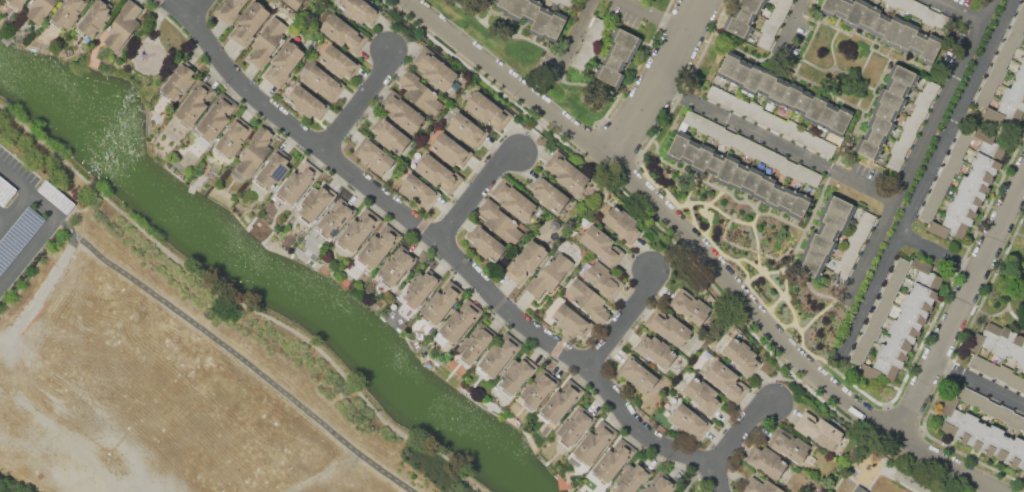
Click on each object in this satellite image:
building: (763, 0)
building: (884, 0)
building: (496, 1)
building: (554, 1)
building: (567, 2)
building: (294, 3)
building: (892, 3)
building: (16, 4)
road: (802, 4)
building: (906, 4)
building: (504, 5)
building: (750, 5)
building: (783, 5)
building: (829, 6)
building: (843, 8)
building: (40, 9)
road: (197, 9)
building: (517, 9)
building: (918, 9)
building: (229, 10)
building: (531, 10)
building: (360, 11)
building: (1021, 11)
road: (960, 12)
building: (68, 13)
building: (856, 13)
road: (658, 15)
building: (743, 15)
building: (777, 16)
building: (930, 17)
building: (95, 18)
building: (869, 18)
building: (541, 21)
building: (942, 21)
building: (249, 24)
building: (1018, 24)
building: (123, 25)
building: (555, 26)
building: (881, 26)
building: (599, 27)
building: (737, 27)
building: (769, 28)
building: (893, 30)
building: (343, 33)
road: (578, 33)
building: (905, 36)
building: (593, 38)
building: (1014, 38)
building: (626, 39)
building: (267, 42)
building: (918, 42)
building: (1006, 49)
building: (588, 50)
building: (929, 50)
building: (620, 52)
building: (339, 62)
building: (580, 62)
building: (1000, 62)
building: (1023, 62)
building: (283, 63)
building: (613, 63)
building: (728, 66)
building: (434, 69)
building: (740, 73)
building: (1020, 73)
building: (608, 75)
building: (903, 75)
building: (997, 75)
building: (753, 79)
building: (178, 82)
road: (662, 82)
building: (323, 83)
building: (767, 83)
building: (1018, 85)
building: (989, 86)
building: (896, 87)
building: (931, 88)
building: (777, 91)
building: (420, 93)
building: (714, 93)
building: (791, 96)
building: (1013, 98)
building: (891, 99)
building: (923, 99)
building: (727, 100)
building: (982, 100)
building: (803, 102)
building: (194, 103)
building: (307, 103)
road: (360, 103)
building: (740, 106)
building: (814, 109)
building: (488, 110)
building: (752, 110)
building: (401, 111)
building: (884, 111)
building: (918, 113)
building: (1003, 113)
building: (827, 116)
building: (216, 118)
building: (691, 118)
building: (764, 118)
building: (840, 121)
building: (777, 124)
building: (910, 124)
building: (703, 125)
building: (880, 125)
building: (790, 128)
building: (466, 130)
building: (715, 130)
building: (390, 135)
building: (802, 136)
building: (233, 137)
building: (874, 137)
building: (906, 137)
building: (964, 137)
building: (727, 138)
road: (781, 141)
building: (739, 142)
building: (814, 142)
building: (988, 143)
building: (677, 146)
building: (751, 149)
building: (827, 149)
building: (868, 149)
building: (899, 149)
building: (451, 150)
building: (958, 150)
building: (690, 151)
building: (254, 152)
road: (922, 152)
building: (764, 154)
building: (373, 156)
building: (702, 158)
building: (777, 160)
building: (894, 161)
building: (714, 163)
building: (953, 163)
building: (986, 163)
building: (788, 168)
building: (273, 169)
building: (726, 169)
building: (566, 172)
building: (801, 172)
building: (438, 173)
building: (946, 174)
building: (738, 176)
building: (980, 176)
road: (929, 177)
building: (813, 178)
building: (751, 180)
building: (297, 183)
building: (763, 187)
building: (940, 187)
building: (972, 187)
road: (29, 191)
building: (419, 191)
road: (476, 192)
building: (548, 194)
building: (774, 195)
building: (512, 200)
building: (787, 200)
building: (934, 200)
building: (966, 200)
building: (316, 202)
building: (799, 206)
building: (839, 206)
road: (14, 209)
building: (960, 213)
building: (927, 214)
road: (3, 217)
building: (335, 217)
building: (834, 219)
building: (867, 219)
building: (500, 222)
building: (622, 224)
building: (948, 228)
building: (358, 230)
building: (828, 231)
building: (860, 232)
building: (485, 243)
building: (821, 243)
building: (853, 244)
building: (379, 246)
building: (602, 246)
road: (449, 249)
road: (29, 251)
road: (705, 251)
road: (941, 253)
building: (815, 255)
building: (849, 257)
building: (525, 262)
building: (396, 266)
building: (902, 266)
building: (809, 268)
building: (842, 268)
building: (549, 275)
building: (927, 275)
building: (603, 279)
building: (895, 280)
building: (837, 281)
building: (421, 288)
building: (888, 293)
building: (923, 293)
road: (237, 301)
building: (588, 301)
building: (441, 302)
building: (915, 305)
building: (689, 306)
building: (884, 306)
road: (962, 310)
building: (876, 318)
road: (624, 319)
building: (910, 319)
building: (568, 320)
building: (459, 321)
building: (667, 326)
building: (902, 330)
building: (872, 331)
building: (984, 339)
building: (476, 342)
building: (1003, 342)
building: (864, 343)
building: (898, 343)
building: (1015, 349)
building: (655, 350)
building: (498, 355)
building: (741, 355)
building: (857, 356)
building: (891, 356)
building: (1021, 359)
building: (977, 363)
building: (878, 369)
building: (990, 370)
building: (1003, 373)
building: (637, 374)
building: (517, 375)
building: (727, 381)
road: (791, 381)
building: (1014, 381)
road: (980, 382)
building: (1022, 388)
building: (538, 389)
building: (965, 394)
building: (702, 395)
building: (561, 401)
building: (978, 401)
building: (991, 408)
building: (1004, 414)
building: (951, 416)
building: (689, 421)
building: (1015, 421)
building: (574, 426)
road: (741, 426)
building: (1022, 426)
building: (965, 428)
building: (818, 430)
building: (977, 435)
building: (991, 440)
building: (594, 442)
building: (789, 445)
building: (1002, 447)
building: (1015, 452)
building: (613, 461)
building: (766, 462)
building: (1021, 463)
building: (632, 477)
building: (660, 483)
building: (760, 486)
building: (859, 489)

